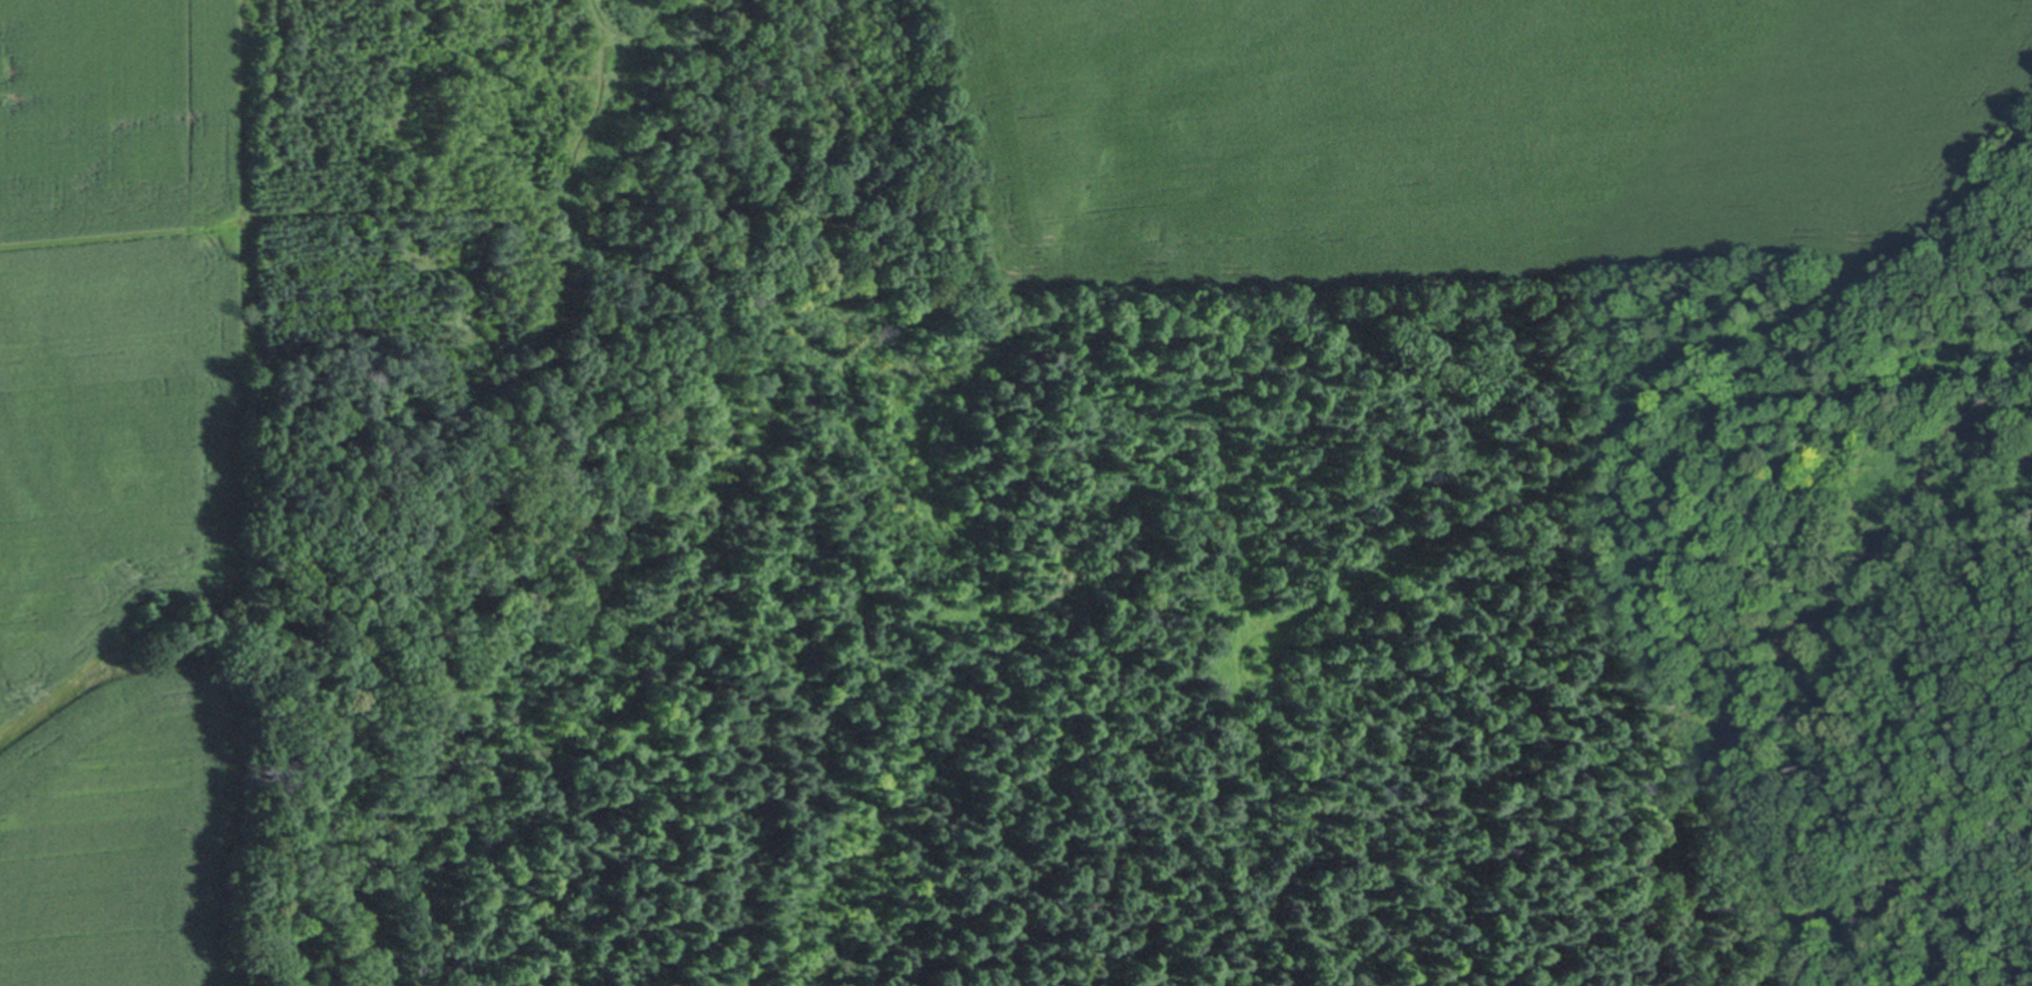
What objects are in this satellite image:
crop: (121, 497)
river: (1686, 778)

